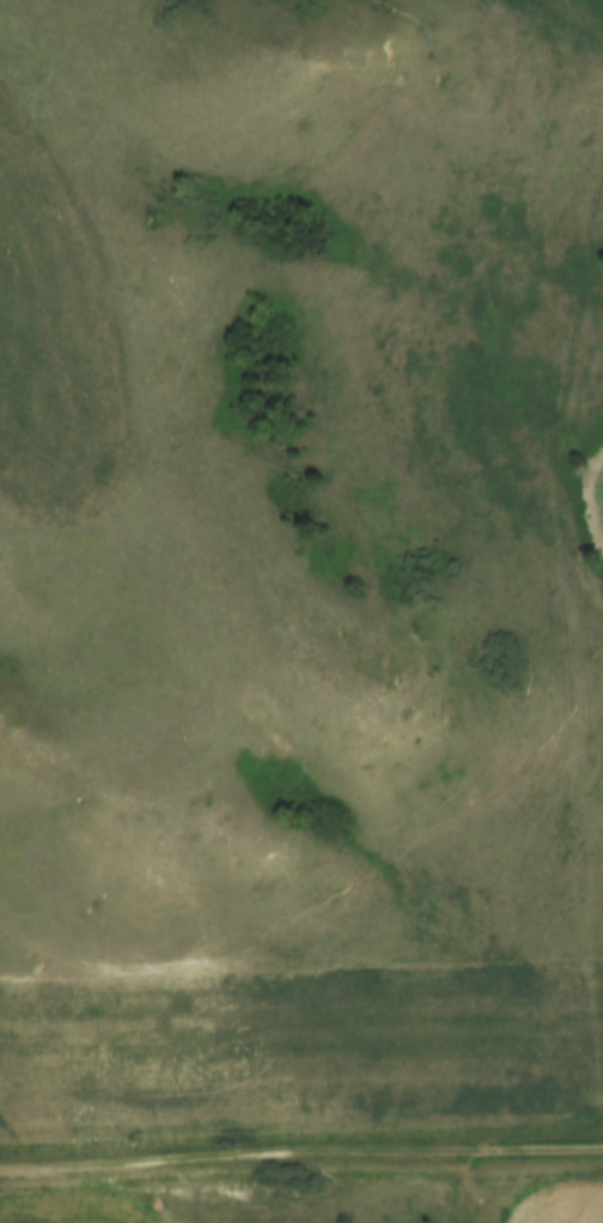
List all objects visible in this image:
road: (300, 1155)
road: (467, 1188)

